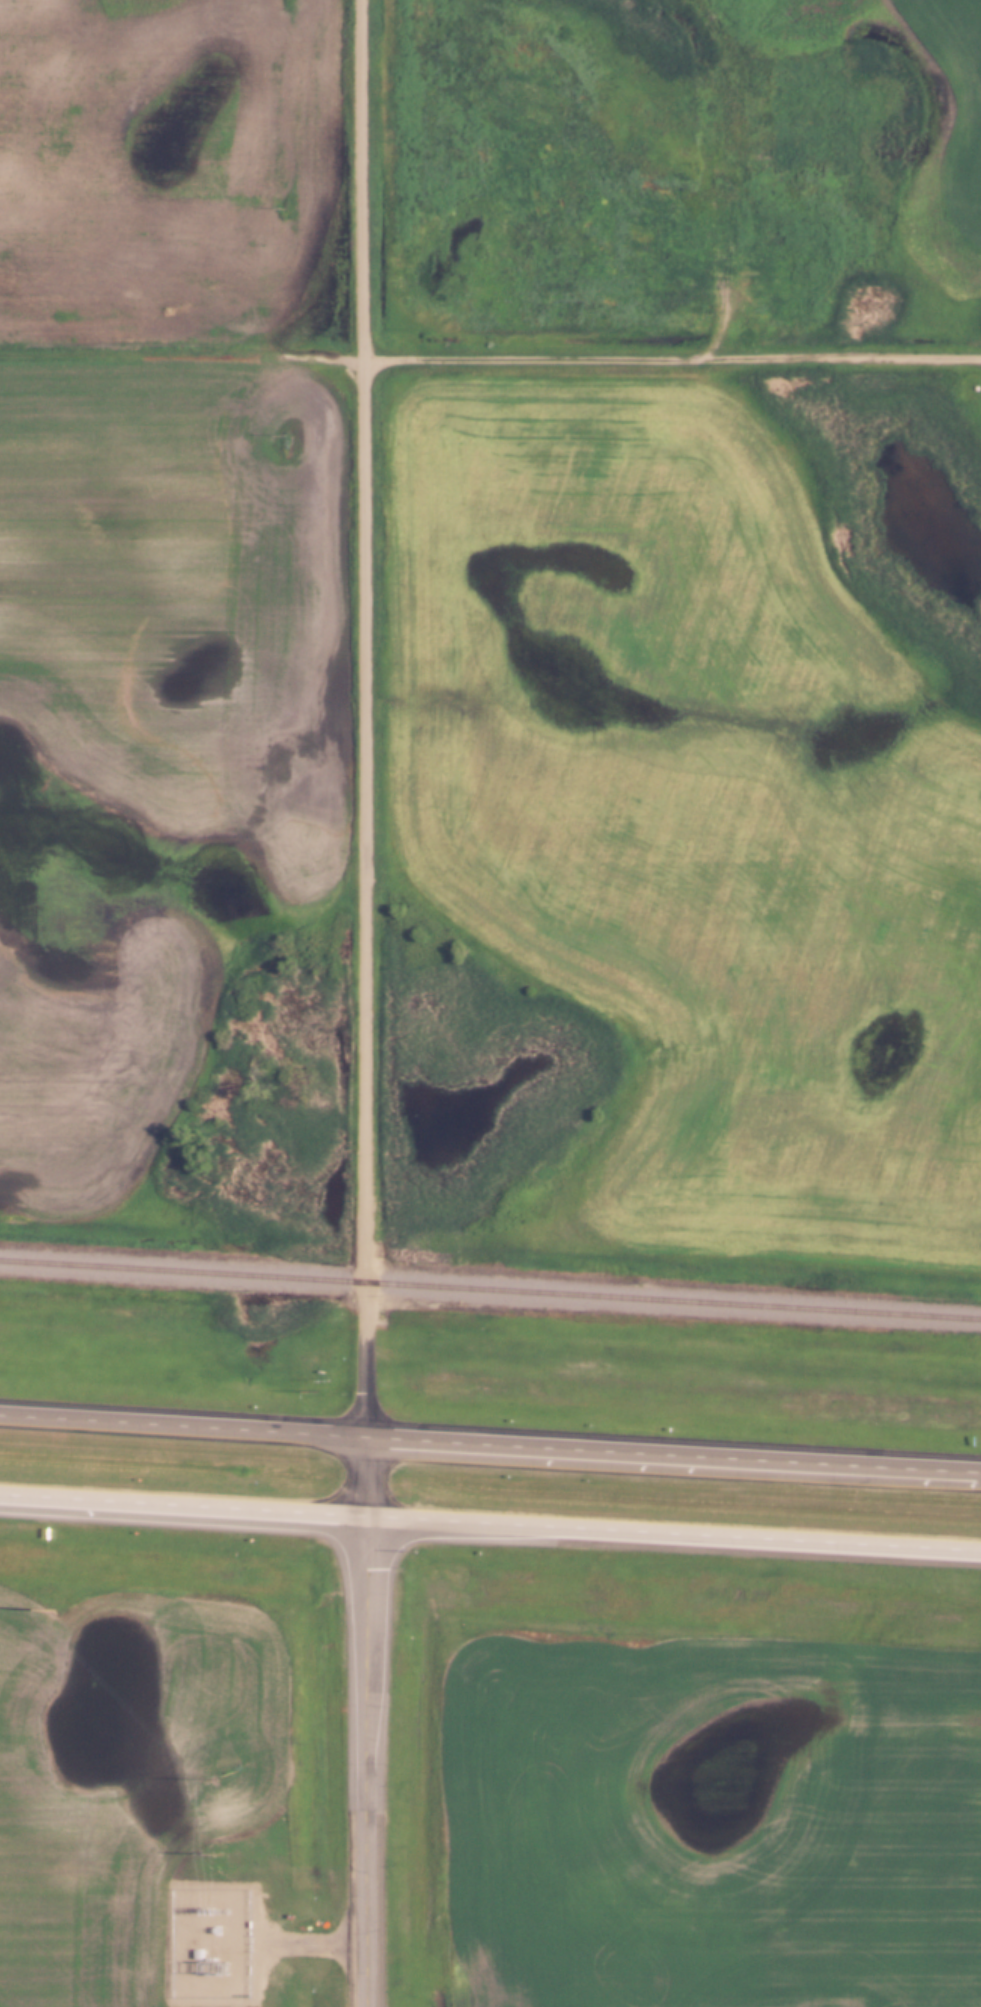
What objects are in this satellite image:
road: (490, 354)
road: (369, 718)
railway: (490, 1290)
road: (186, 1425)
road: (676, 1455)
road: (372, 1476)
road: (186, 1504)
road: (677, 1532)
road: (372, 1761)
power substation: (215, 1943)

